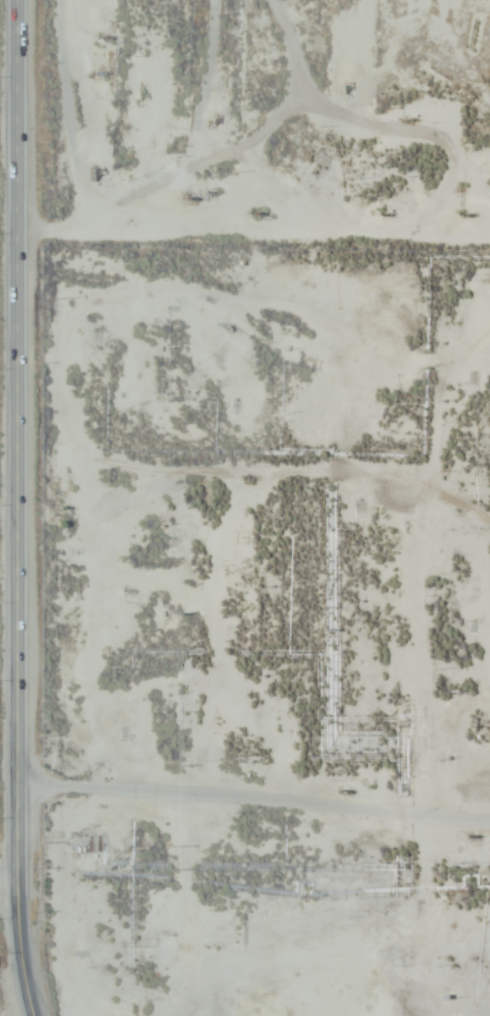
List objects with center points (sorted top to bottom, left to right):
road: (26, 400)
road: (256, 795)
road: (23, 908)

